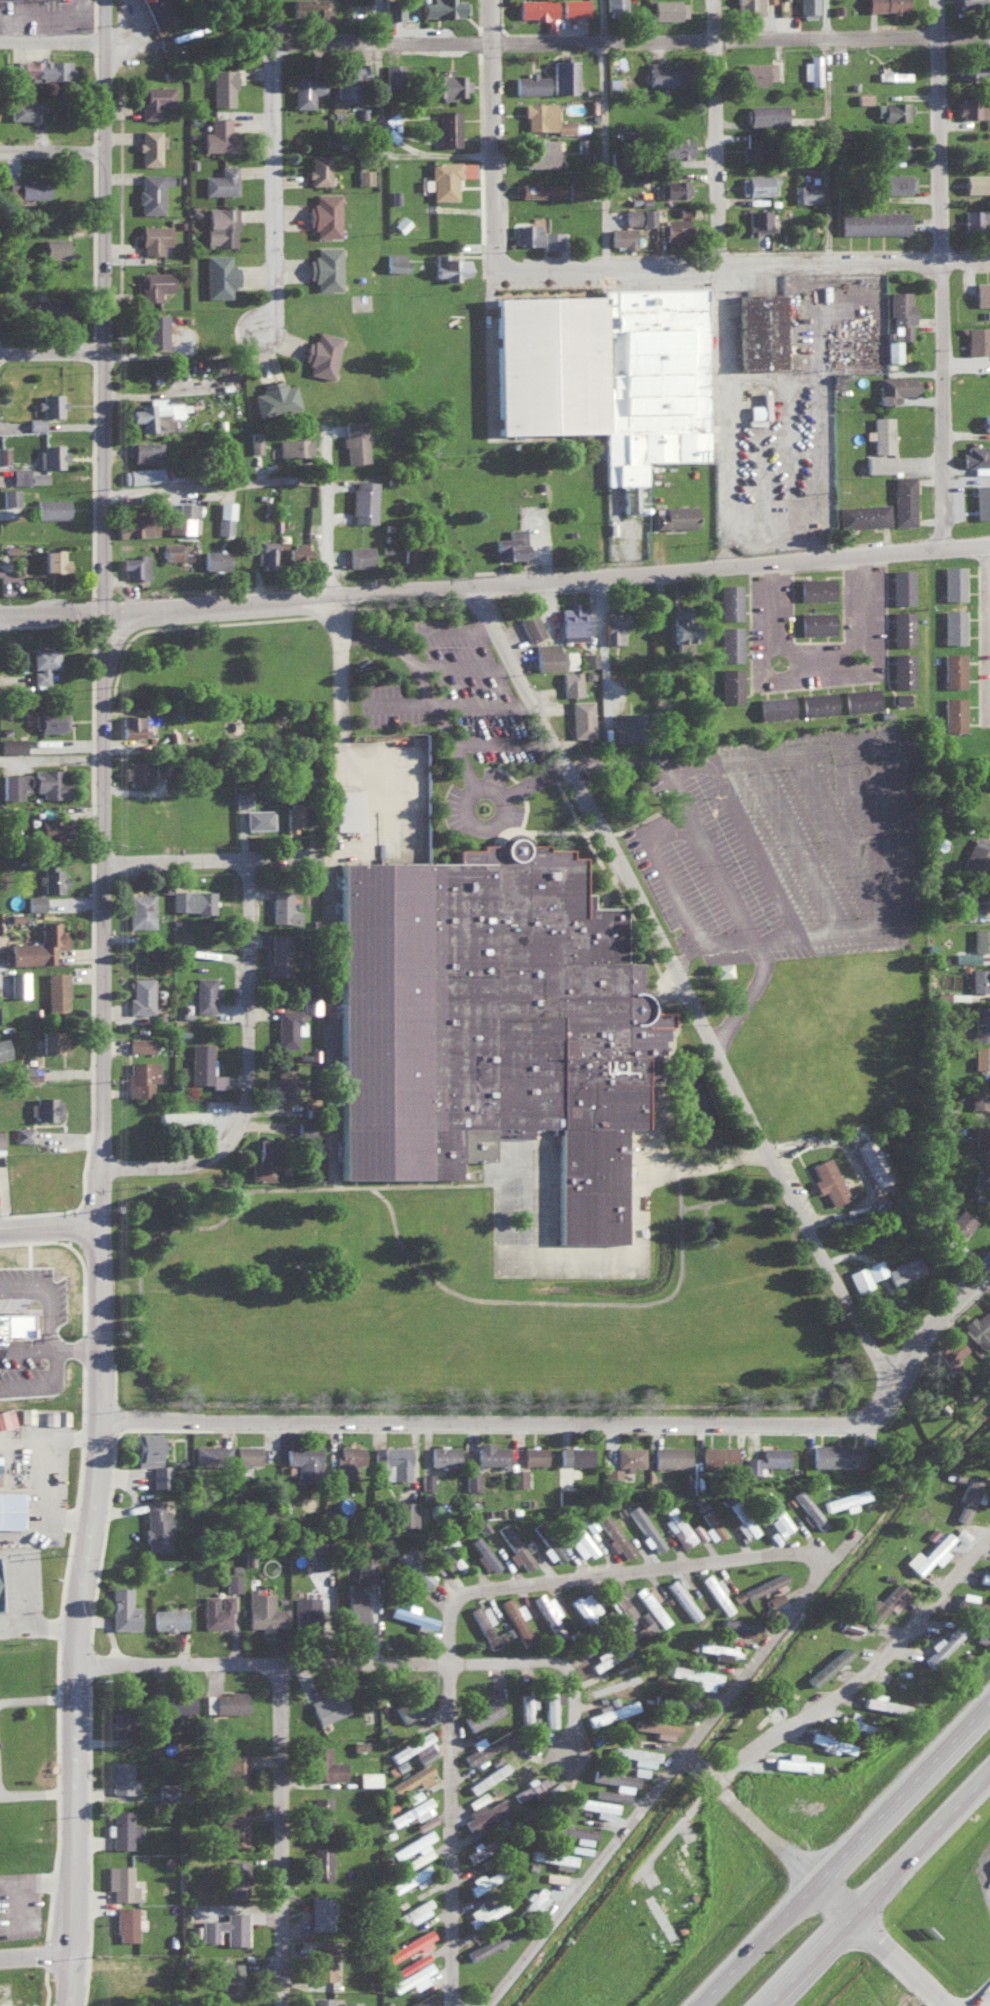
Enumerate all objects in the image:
building: (141, 0)
building: (769, 0)
building: (971, 3)
building: (615, 5)
building: (748, 5)
building: (885, 5)
building: (574, 7)
building: (443, 8)
building: (536, 8)
building: (808, 8)
building: (669, 9)
building: (314, 10)
building: (157, 11)
building: (393, 11)
building: (550, 23)
road: (629, 38)
road: (52, 44)
building: (13, 68)
building: (812, 69)
building: (972, 69)
building: (44, 70)
building: (755, 72)
building: (664, 73)
building: (893, 74)
building: (393, 75)
building: (562, 75)
building: (347, 79)
building: (531, 82)
building: (445, 85)
building: (222, 87)
building: (307, 88)
building: (863, 97)
building: (154, 100)
building: (971, 106)
building: (893, 108)
building: (22, 110)
building: (765, 114)
building: (545, 117)
building: (448, 127)
road: (378, 129)
road: (837, 131)
road: (602, 132)
road: (724, 132)
road: (489, 133)
building: (218, 135)
building: (840, 135)
building: (752, 145)
building: (897, 146)
building: (149, 147)
building: (676, 147)
road: (52, 152)
building: (539, 152)
building: (894, 160)
road: (272, 167)
building: (318, 169)
building: (364, 175)
building: (447, 179)
building: (220, 181)
building: (895, 182)
building: (976, 182)
building: (757, 183)
building: (26, 184)
building: (673, 187)
building: (539, 189)
building: (574, 189)
building: (151, 191)
building: (805, 192)
building: (323, 214)
building: (976, 215)
building: (639, 216)
building: (875, 220)
building: (759, 221)
building: (401, 223)
building: (220, 226)
building: (676, 229)
building: (525, 233)
building: (622, 236)
building: (153, 238)
building: (553, 239)
building: (53, 249)
building: (395, 261)
road: (742, 263)
building: (449, 266)
building: (327, 267)
road: (950, 273)
building: (218, 276)
building: (154, 284)
building: (982, 292)
building: (4, 305)
building: (50, 306)
road: (104, 308)
building: (901, 314)
building: (759, 328)
building: (154, 329)
building: (978, 338)
building: (893, 349)
building: (321, 353)
road: (52, 355)
building: (604, 365)
building: (895, 386)
building: (275, 397)
building: (52, 400)
building: (156, 411)
building: (757, 411)
road: (732, 414)
building: (986, 418)
building: (35, 423)
building: (255, 440)
building: (354, 440)
building: (294, 445)
building: (881, 445)
building: (143, 450)
building: (4, 453)
building: (975, 455)
building: (50, 457)
building: (141, 474)
building: (28, 475)
road: (219, 488)
building: (9, 495)
building: (903, 498)
building: (981, 499)
building: (363, 500)
building: (53, 507)
building: (862, 514)
building: (224, 516)
building: (675, 516)
building: (184, 517)
building: (135, 522)
building: (511, 543)
building: (297, 549)
building: (409, 549)
building: (171, 550)
building: (265, 551)
building: (359, 554)
building: (54, 558)
building: (215, 558)
building: (134, 564)
road: (545, 580)
building: (953, 581)
building: (901, 585)
building: (815, 587)
building: (730, 600)
road: (51, 617)
building: (573, 621)
building: (816, 622)
building: (682, 623)
building: (613, 624)
building: (530, 625)
building: (953, 625)
building: (902, 627)
road: (463, 628)
road: (348, 639)
building: (730, 642)
road: (603, 653)
building: (552, 656)
building: (589, 658)
road: (830, 660)
building: (42, 662)
road: (466, 665)
building: (902, 668)
building: (953, 668)
building: (571, 682)
building: (730, 684)
building: (899, 697)
building: (860, 698)
building: (817, 702)
road: (488, 706)
building: (775, 706)
building: (953, 712)
building: (581, 717)
building: (49, 720)
building: (625, 725)
building: (132, 726)
road: (506, 742)
building: (12, 744)
road: (452, 744)
building: (158, 766)
building: (135, 769)
building: (50, 782)
building: (12, 784)
building: (241, 798)
road: (871, 803)
building: (344, 808)
building: (294, 816)
building: (258, 818)
building: (52, 829)
road: (903, 831)
road: (844, 838)
road: (798, 844)
road: (757, 851)
building: (976, 855)
road: (228, 861)
road: (723, 866)
road: (675, 875)
building: (51, 876)
road: (100, 893)
building: (977, 895)
building: (282, 899)
building: (192, 900)
building: (35, 902)
road: (0, 907)
building: (142, 908)
building: (981, 938)
building: (53, 939)
building: (281, 950)
building: (966, 956)
building: (723, 968)
building: (979, 978)
building: (18, 985)
road: (692, 986)
building: (57, 989)
building: (139, 994)
building: (203, 994)
building: (309, 1003)
building: (981, 1021)
building: (490, 1022)
building: (288, 1025)
building: (50, 1040)
building: (140, 1044)
building: (3, 1048)
building: (981, 1056)
building: (200, 1060)
building: (29, 1072)
building: (140, 1077)
road: (258, 1080)
building: (285, 1086)
building: (979, 1096)
building: (46, 1107)
building: (180, 1117)
building: (305, 1127)
building: (23, 1133)
building: (981, 1135)
building: (0, 1138)
building: (264, 1159)
building: (873, 1160)
road: (706, 1165)
building: (828, 1180)
road: (97, 1197)
building: (960, 1222)
road: (48, 1228)
building: (875, 1268)
building: (904, 1269)
building: (859, 1278)
road: (97, 1285)
building: (14, 1323)
road: (942, 1328)
building: (978, 1330)
building: (951, 1351)
building: (988, 1359)
road: (98, 1381)
building: (25, 1414)
building: (55, 1416)
building: (6, 1417)
road: (514, 1424)
road: (45, 1453)
building: (247, 1453)
building: (490, 1454)
building: (533, 1454)
building: (575, 1454)
building: (836, 1454)
building: (210, 1455)
building: (443, 1455)
building: (670, 1455)
building: (718, 1455)
building: (629, 1456)
building: (150, 1457)
building: (766, 1458)
building: (347, 1460)
building: (392, 1460)
building: (304, 1461)
building: (612, 1476)
building: (518, 1477)
building: (471, 1480)
building: (426, 1481)
building: (564, 1494)
building: (967, 1497)
building: (845, 1499)
building: (17, 1509)
building: (403, 1512)
building: (775, 1513)
building: (588, 1521)
building: (712, 1523)
building: (156, 1525)
building: (677, 1525)
building: (745, 1526)
building: (645, 1527)
building: (697, 1530)
building: (579, 1539)
road: (24, 1546)
building: (484, 1553)
building: (929, 1553)
road: (725, 1558)
building: (319, 1561)
building: (364, 1564)
building: (413, 1566)
building: (984, 1577)
building: (232, 1581)
building: (3, 1585)
building: (764, 1585)
building: (716, 1592)
building: (773, 1598)
building: (682, 1599)
building: (885, 1602)
building: (650, 1603)
building: (585, 1605)
building: (621, 1607)
building: (355, 1608)
building: (122, 1609)
building: (216, 1610)
building: (264, 1611)
building: (305, 1612)
building: (410, 1615)
building: (548, 1615)
building: (641, 1617)
building: (168, 1619)
building: (516, 1619)
building: (484, 1623)
building: (742, 1623)
building: (851, 1624)
road: (37, 1628)
road: (74, 1629)
building: (942, 1645)
building: (720, 1650)
building: (609, 1657)
road: (550, 1661)
road: (259, 1662)
building: (828, 1665)
building: (523, 1674)
road: (860, 1674)
building: (696, 1676)
building: (678, 1701)
building: (229, 1702)
building: (880, 1702)
road: (36, 1704)
building: (328, 1706)
building: (526, 1706)
building: (410, 1707)
building: (549, 1707)
building: (177, 1711)
building: (612, 1711)
building: (482, 1713)
building: (853, 1721)
building: (119, 1722)
building: (657, 1728)
road: (947, 1739)
building: (831, 1742)
building: (415, 1748)
building: (636, 1755)
road: (688, 1755)
building: (794, 1762)
road: (695, 1763)
building: (324, 1764)
building: (639, 1770)
building: (236, 1773)
building: (488, 1777)
building: (121, 1778)
building: (368, 1778)
building: (411, 1779)
building: (615, 1779)
building: (529, 1788)
building: (166, 1791)
road: (36, 1796)
building: (595, 1806)
building: (413, 1811)
building: (320, 1812)
building: (479, 1815)
building: (235, 1822)
building: (121, 1829)
building: (573, 1830)
road: (279, 1834)
road: (448, 1834)
building: (415, 1848)
building: (475, 1850)
building: (560, 1859)
building: (320, 1862)
road: (812, 1864)
building: (235, 1877)
building: (554, 1877)
road: (815, 1877)
road: (585, 1878)
building: (482, 1881)
road: (36, 1882)
building: (120, 1882)
road: (875, 1887)
road: (72, 1898)
road: (29, 1906)
building: (413, 1911)
building: (485, 1911)
building: (320, 1912)
building: (660, 1915)
building: (0, 1921)
building: (125, 1923)
building: (225, 1928)
building: (490, 1943)
building: (410, 1944)
road: (34, 1957)
building: (322, 1962)
road: (698, 1965)
building: (231, 1978)
building: (412, 1978)
road: (68, 1980)
road: (708, 1988)
road: (666, 1996)
road: (981, 1997)
building: (321, 2001)
building: (350, 2003)

